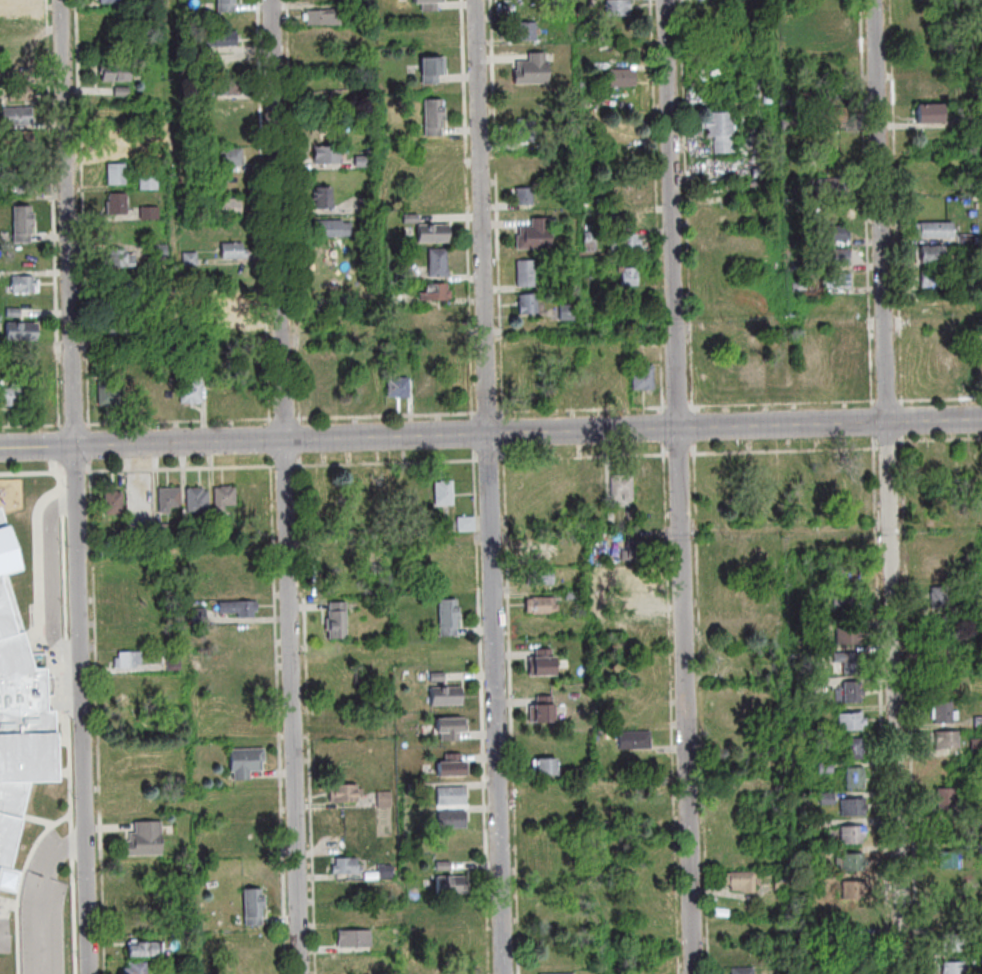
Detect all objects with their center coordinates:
building: (110, 1)
building: (13, 2)
building: (979, 3)
building: (225, 5)
building: (430, 5)
building: (619, 7)
building: (325, 18)
road: (485, 19)
building: (827, 19)
building: (786, 26)
building: (525, 31)
building: (219, 37)
building: (115, 71)
building: (432, 71)
building: (533, 71)
building: (624, 78)
building: (224, 84)
building: (924, 88)
building: (831, 92)
building: (21, 93)
building: (119, 95)
building: (769, 98)
building: (789, 99)
building: (737, 102)
building: (346, 105)
building: (203, 107)
building: (930, 114)
building: (833, 116)
building: (19, 117)
building: (434, 118)
building: (827, 121)
building: (964, 122)
building: (790, 124)
building: (528, 130)
building: (722, 131)
building: (118, 135)
building: (20, 140)
building: (148, 153)
building: (332, 154)
building: (226, 155)
building: (25, 163)
building: (365, 163)
building: (115, 172)
building: (759, 174)
building: (147, 180)
building: (19, 187)
building: (833, 187)
building: (526, 196)
building: (801, 196)
building: (325, 198)
building: (116, 201)
building: (967, 202)
road: (898, 203)
road: (868, 204)
building: (226, 205)
building: (368, 205)
road: (659, 207)
road: (688, 207)
building: (148, 211)
road: (265, 212)
building: (974, 214)
road: (55, 215)
road: (85, 215)
road: (499, 218)
building: (412, 219)
building: (23, 225)
building: (333, 230)
building: (976, 230)
building: (936, 231)
building: (835, 234)
building: (434, 235)
building: (536, 236)
building: (968, 239)
building: (591, 243)
building: (628, 244)
building: (233, 249)
building: (160, 253)
building: (930, 255)
building: (121, 256)
building: (188, 257)
building: (836, 258)
building: (969, 260)
building: (439, 264)
building: (527, 274)
building: (405, 276)
building: (631, 278)
building: (937, 280)
building: (837, 281)
building: (26, 285)
building: (800, 288)
building: (438, 293)
building: (235, 297)
building: (399, 299)
building: (530, 304)
building: (14, 313)
building: (569, 313)
building: (120, 324)
building: (23, 332)
building: (970, 341)
building: (199, 358)
building: (106, 360)
building: (857, 366)
building: (587, 377)
building: (560, 379)
building: (645, 380)
building: (399, 388)
building: (190, 390)
building: (121, 393)
building: (163, 393)
building: (12, 396)
road: (941, 400)
road: (889, 401)
road: (784, 404)
road: (679, 408)
road: (583, 410)
road: (489, 413)
road: (388, 416)
road: (286, 420)
road: (180, 422)
road: (875, 422)
road: (904, 422)
road: (31, 425)
road: (75, 425)
road: (664, 428)
road: (696, 428)
road: (505, 432)
road: (536, 432)
road: (272, 441)
road: (940, 441)
road: (475, 442)
road: (92, 445)
road: (890, 446)
road: (46, 447)
road: (61, 447)
road: (301, 448)
road: (786, 451)
road: (680, 455)
road: (585, 458)
road: (491, 461)
road: (388, 463)
road: (287, 466)
road: (61, 468)
road: (182, 469)
road: (77, 472)
road: (34, 473)
building: (648, 485)
road: (681, 486)
road: (891, 486)
road: (77, 487)
road: (287, 487)
road: (491, 487)
building: (623, 488)
building: (390, 491)
building: (252, 494)
building: (445, 494)
building: (226, 497)
building: (171, 500)
building: (199, 502)
building: (115, 504)
building: (630, 516)
building: (467, 525)
building: (190, 533)
building: (163, 534)
building: (219, 534)
building: (541, 550)
building: (636, 553)
building: (630, 577)
road: (54, 578)
building: (544, 578)
building: (850, 578)
building: (125, 588)
building: (573, 596)
building: (632, 596)
building: (941, 599)
building: (850, 606)
building: (542, 607)
building: (240, 609)
building: (126, 611)
building: (201, 617)
building: (449, 618)
building: (339, 622)
building: (541, 624)
building: (942, 628)
building: (849, 637)
building: (813, 655)
building: (945, 655)
building: (129, 661)
building: (850, 663)
building: (175, 664)
building: (543, 665)
building: (438, 678)
building: (809, 682)
building: (854, 693)
building: (447, 697)
road: (883, 705)
road: (912, 705)
road: (672, 708)
road: (704, 708)
road: (514, 710)
road: (484, 712)
building: (544, 712)
building: (944, 713)
road: (309, 714)
road: (280, 715)
road: (99, 716)
building: (19, 717)
building: (853, 722)
road: (70, 723)
building: (979, 723)
building: (451, 730)
building: (828, 740)
building: (949, 740)
building: (636, 741)
building: (977, 747)
building: (856, 750)
building: (247, 763)
building: (454, 768)
building: (547, 768)
building: (827, 769)
building: (579, 772)
building: (132, 775)
building: (856, 779)
building: (344, 795)
building: (453, 798)
building: (947, 799)
building: (385, 800)
building: (828, 800)
building: (854, 808)
building: (453, 821)
building: (812, 827)
building: (546, 835)
building: (853, 835)
building: (146, 841)
building: (248, 844)
building: (981, 849)
building: (548, 859)
building: (950, 860)
building: (852, 863)
building: (345, 867)
building: (444, 867)
building: (387, 873)
building: (744, 883)
building: (783, 884)
building: (452, 887)
building: (855, 890)
road: (44, 897)
building: (255, 908)
parking lot: (44, 914)
building: (456, 914)
building: (141, 923)
building: (644, 931)
building: (355, 940)
building: (952, 944)
building: (857, 946)
building: (147, 950)
building: (828, 964)
building: (953, 968)
building: (137, 969)
building: (858, 969)
building: (744, 972)
building: (556, 973)

